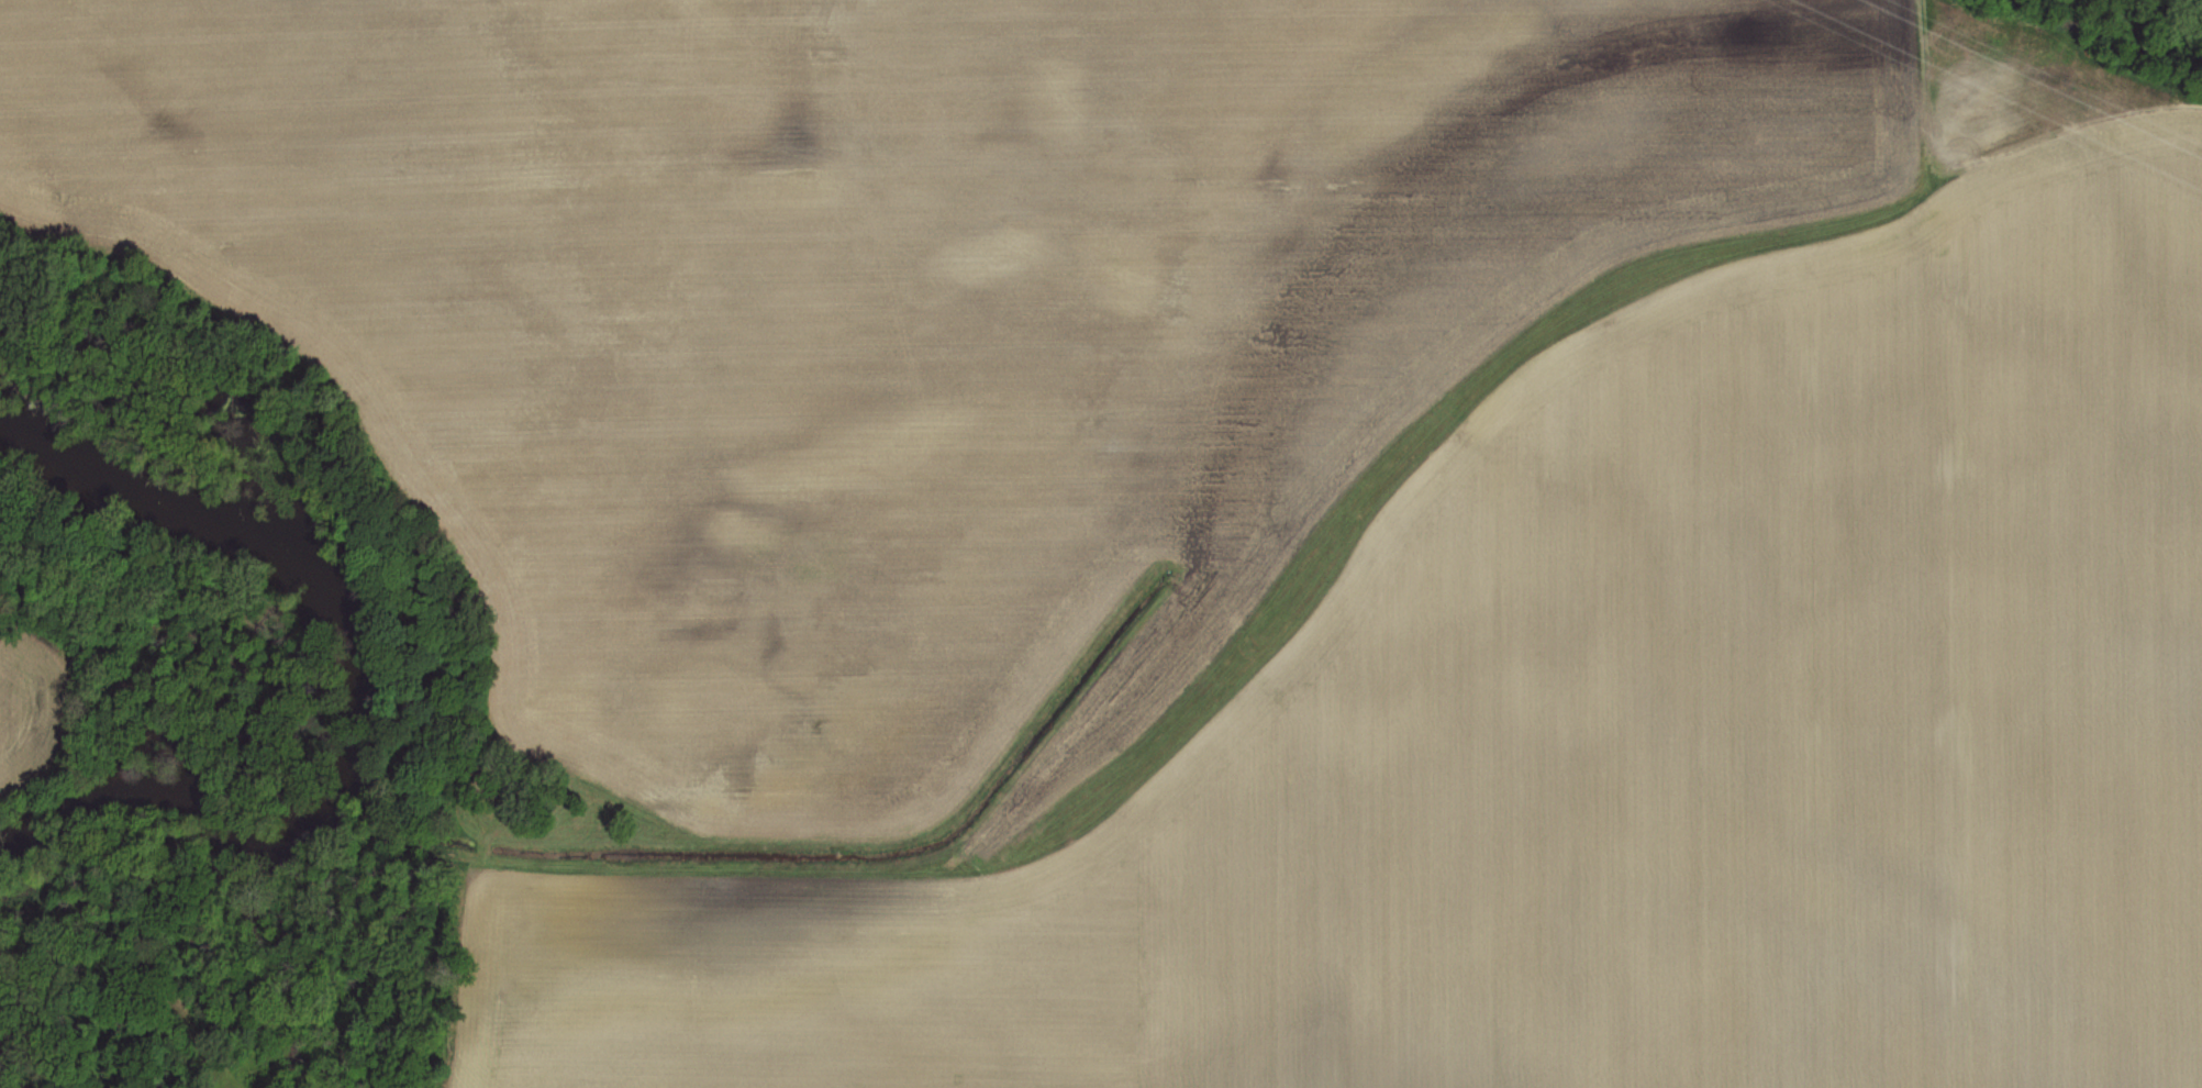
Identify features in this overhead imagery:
river: (353, 698)

